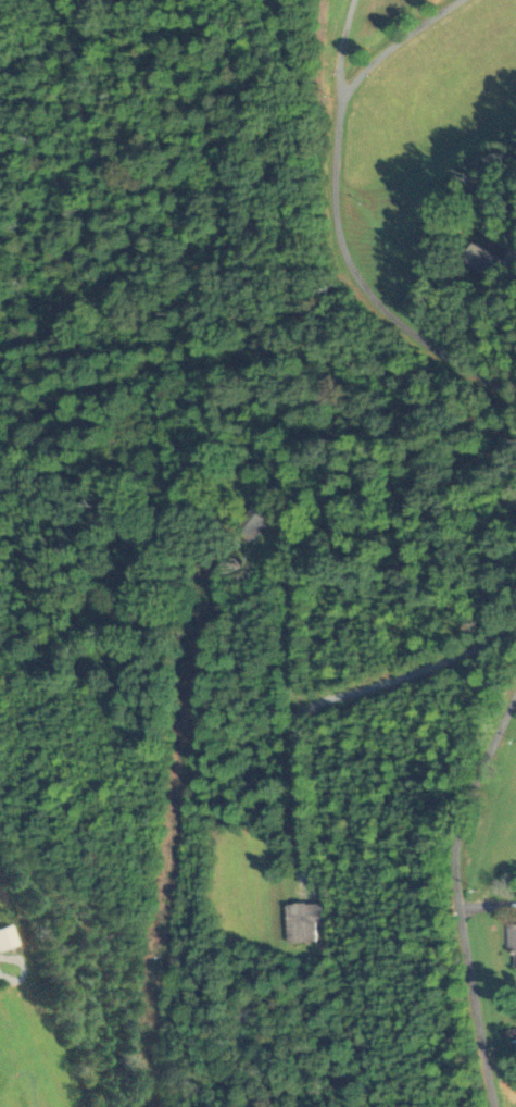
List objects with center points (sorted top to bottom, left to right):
road: (391, 42)
road: (337, 47)
building: (479, 258)
road: (360, 283)
road: (489, 313)
building: (249, 524)
road: (515, 693)
road: (319, 699)
road: (454, 892)
road: (486, 905)
building: (300, 921)
building: (5, 937)
building: (512, 946)

